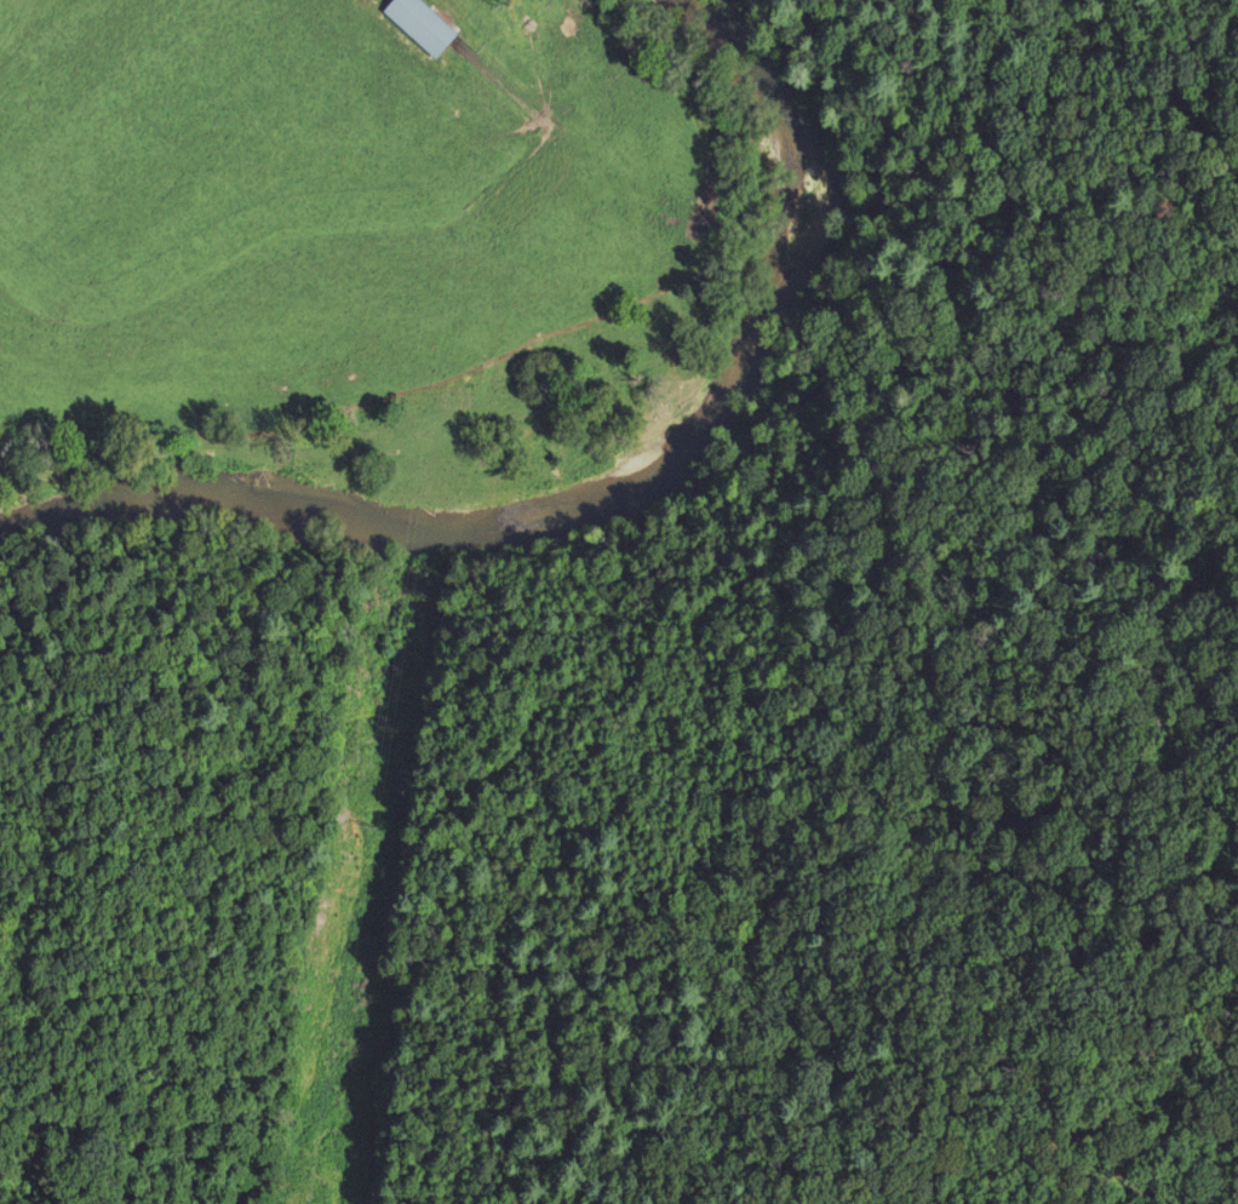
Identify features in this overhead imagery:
building: (423, 27)
river: (614, 495)

